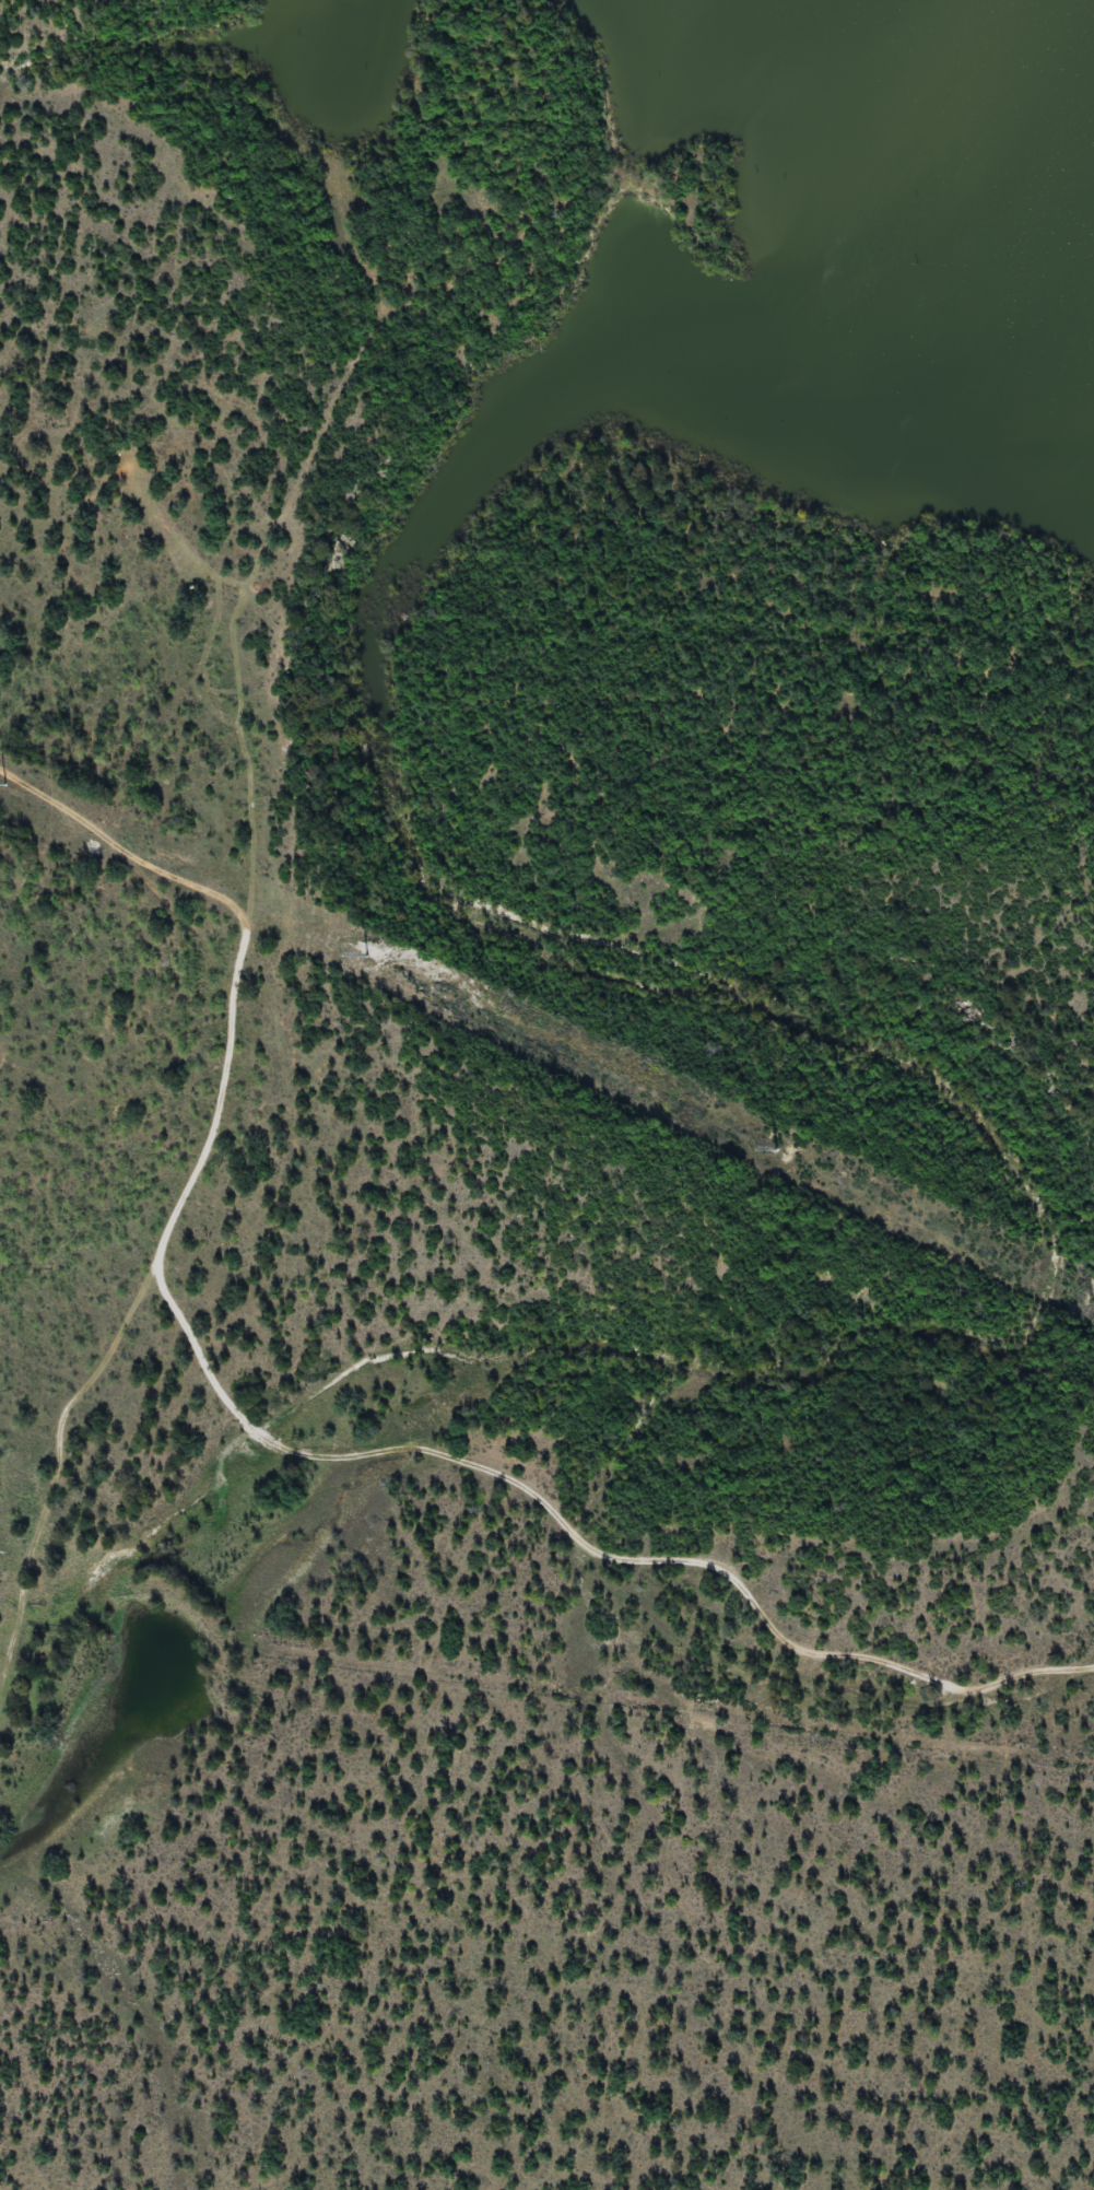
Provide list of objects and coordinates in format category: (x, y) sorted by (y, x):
road: (287, 513)
road: (181, 1221)
road: (569, 1592)

